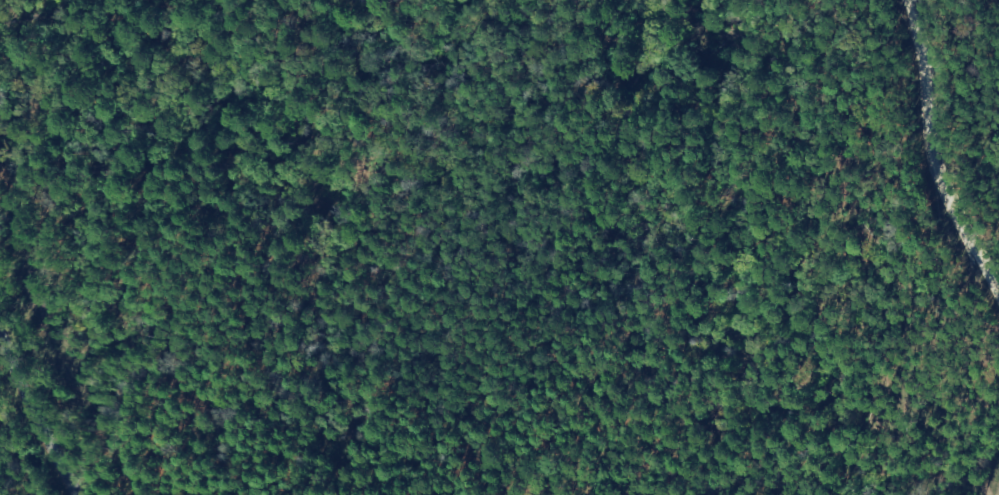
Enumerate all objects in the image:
road: (930, 152)
road: (30, 416)

